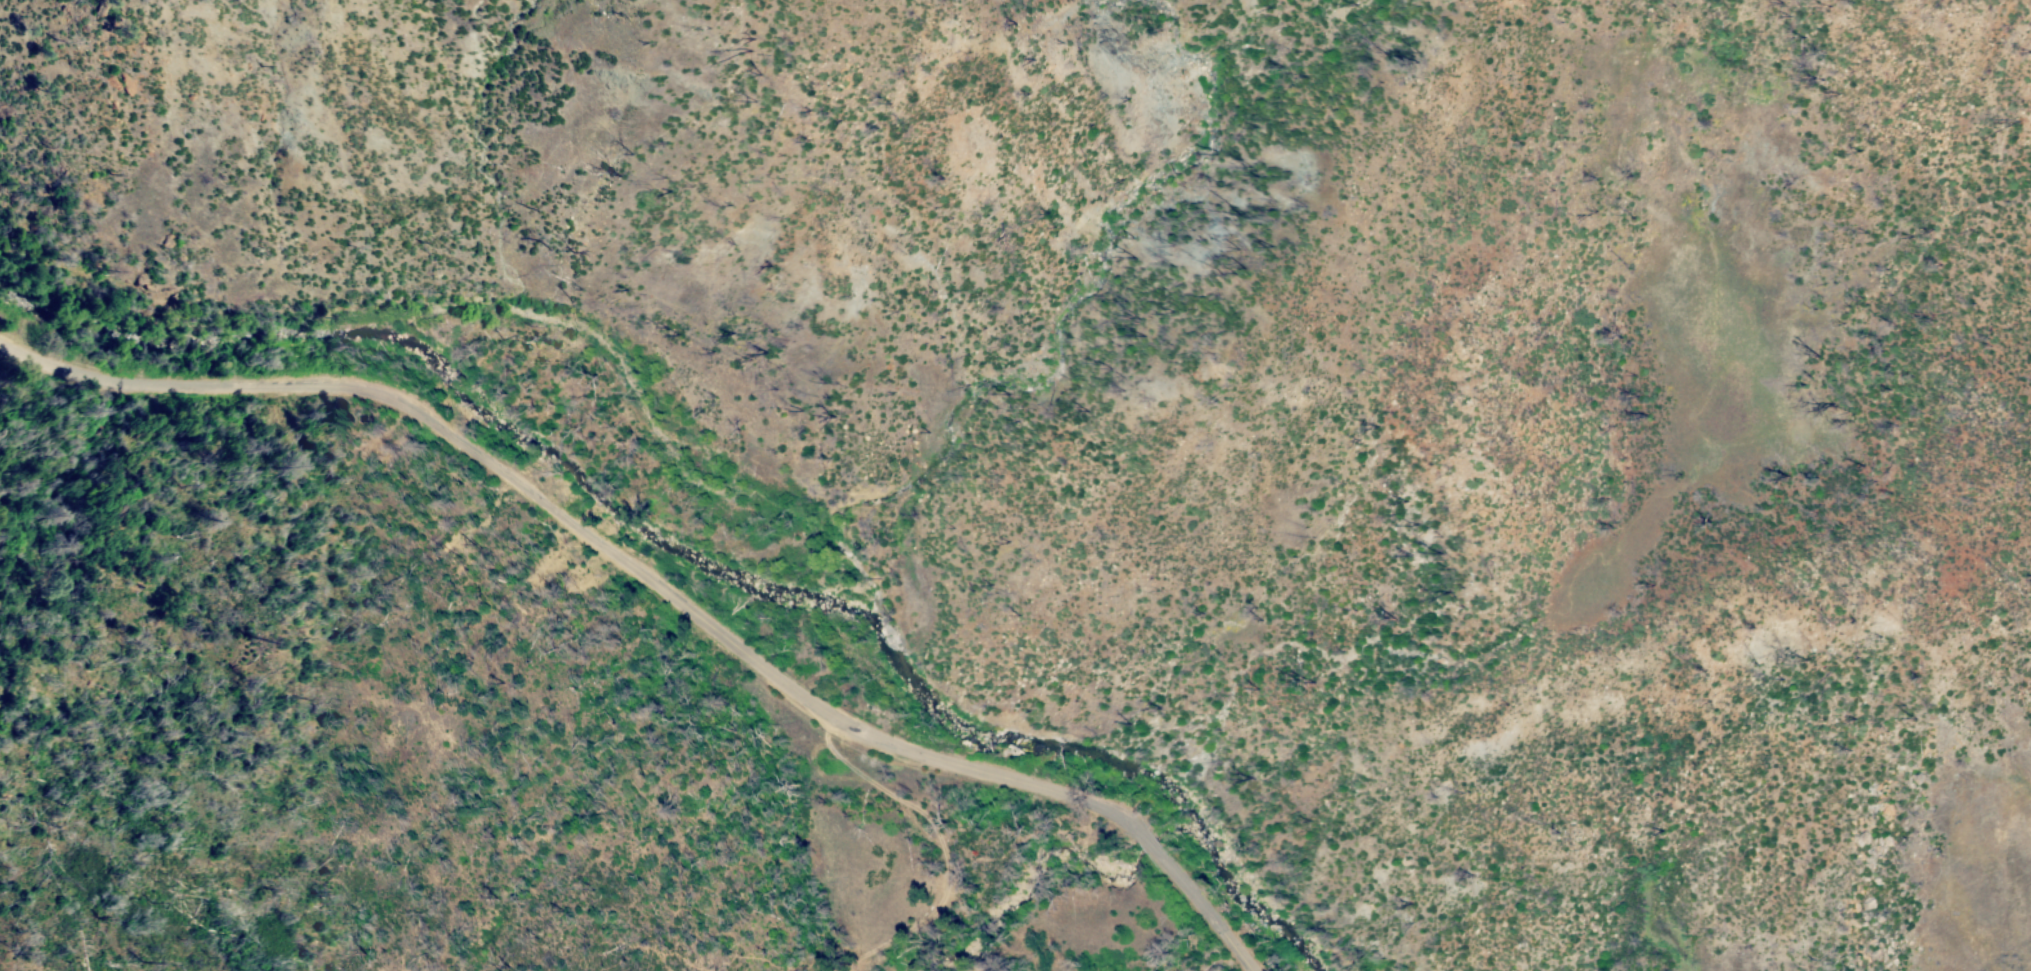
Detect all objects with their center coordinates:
road: (635, 571)
road: (909, 802)
building: (975, 852)
road: (1226, 935)
road: (1242, 957)

